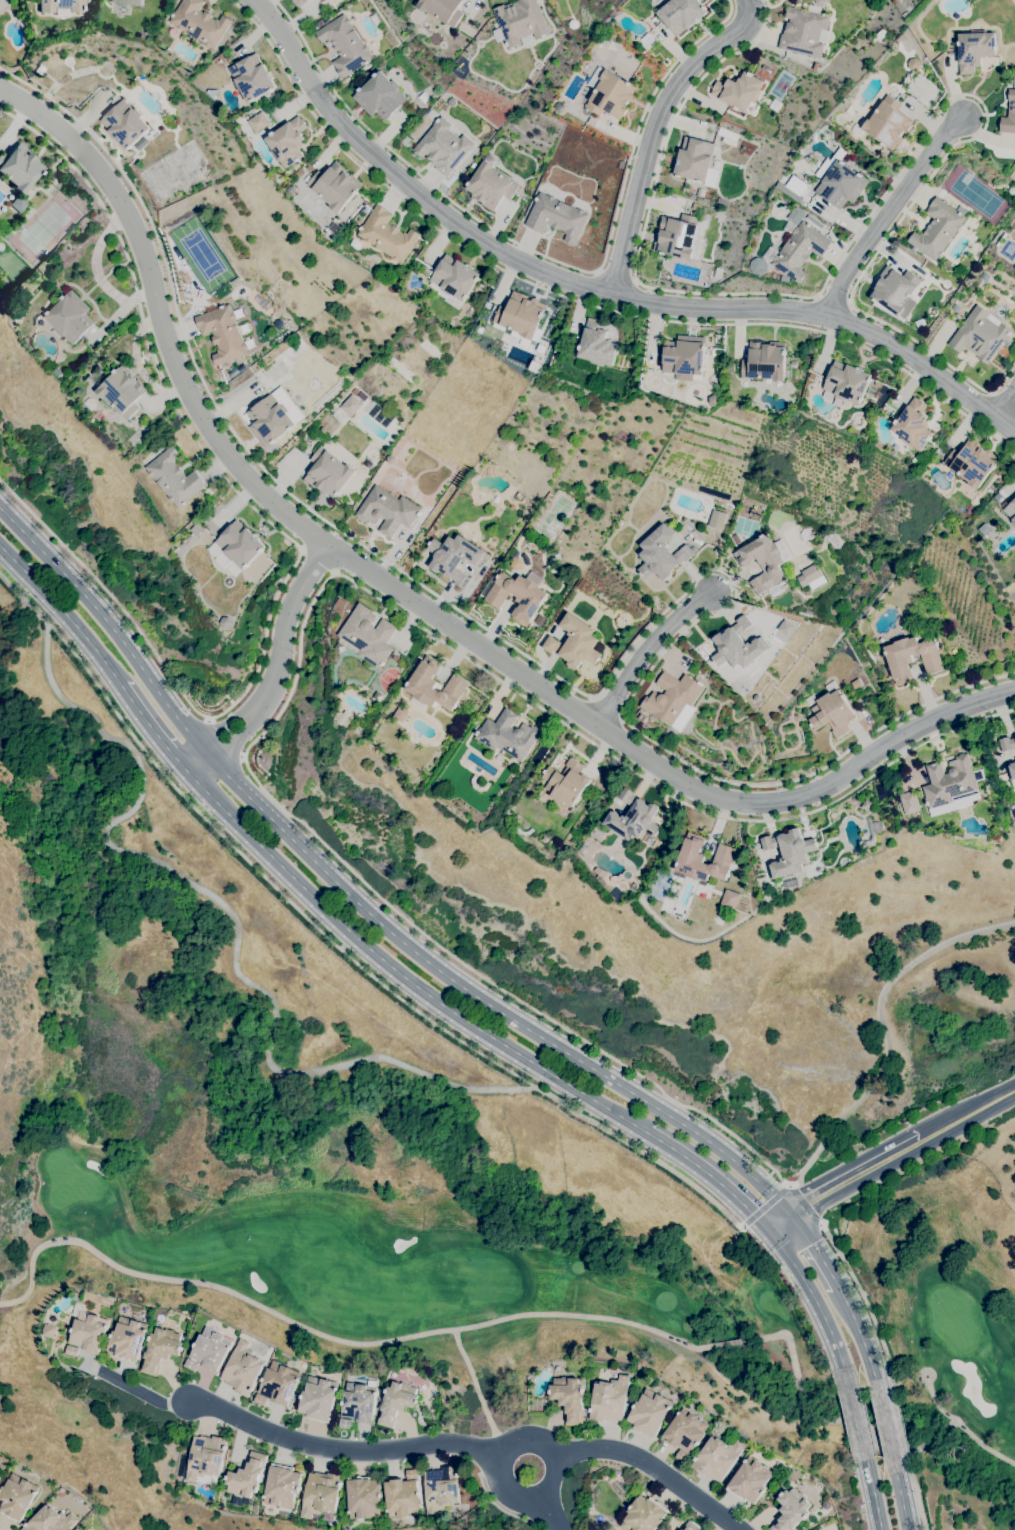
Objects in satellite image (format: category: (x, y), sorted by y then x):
building: (126, 2)
building: (299, 2)
building: (820, 2)
building: (2, 4)
building: (60, 5)
building: (443, 10)
building: (61, 12)
building: (682, 14)
building: (375, 20)
building: (520, 21)
building: (199, 23)
building: (318, 24)
building: (573, 24)
building: (805, 31)
building: (641, 37)
building: (345, 46)
building: (385, 47)
building: (591, 50)
building: (974, 50)
building: (217, 62)
building: (913, 64)
building: (815, 66)
building: (765, 68)
building: (39, 70)
building: (252, 78)
building: (738, 91)
building: (213, 93)
building: (609, 93)
building: (380, 96)
building: (775, 105)
building: (559, 107)
building: (431, 114)
building: (1009, 115)
building: (259, 122)
building: (886, 123)
building: (125, 124)
road: (656, 131)
building: (287, 142)
building: (444, 146)
building: (695, 159)
building: (473, 165)
building: (19, 167)
building: (280, 180)
building: (840, 182)
building: (491, 185)
building: (334, 186)
building: (800, 187)
building: (291, 190)
building: (1012, 190)
park: (974, 194)
road: (877, 204)
building: (696, 207)
road: (889, 212)
building: (556, 217)
building: (334, 227)
building: (938, 228)
building: (387, 235)
building: (677, 236)
building: (1002, 240)
building: (356, 244)
park: (1007, 249)
building: (800, 250)
road: (539, 253)
building: (757, 266)
building: (959, 271)
building: (719, 273)
road: (617, 276)
building: (984, 276)
building: (453, 280)
building: (706, 285)
road: (592, 289)
building: (896, 291)
road: (580, 301)
building: (955, 307)
building: (521, 315)
building: (69, 318)
building: (920, 323)
building: (222, 333)
building: (980, 335)
building: (505, 342)
building: (595, 347)
building: (543, 357)
building: (684, 357)
building: (764, 362)
building: (84, 376)
building: (813, 376)
building: (847, 382)
building: (122, 391)
building: (713, 400)
building: (871, 403)
building: (90, 404)
road: (1007, 407)
building: (347, 410)
building: (380, 415)
building: (274, 417)
building: (95, 421)
building: (913, 425)
building: (875, 432)
building: (156, 449)
building: (391, 460)
building: (972, 462)
building: (328, 473)
building: (174, 478)
building: (388, 511)
building: (752, 511)
building: (1011, 511)
building: (208, 519)
building: (716, 519)
building: (197, 529)
building: (984, 529)
building: (806, 534)
building: (718, 535)
road: (288, 538)
building: (736, 539)
building: (236, 548)
building: (661, 554)
building: (454, 557)
road: (316, 561)
building: (517, 563)
building: (765, 563)
building: (811, 577)
building: (518, 595)
road: (414, 601)
building: (341, 604)
building: (560, 610)
road: (64, 613)
building: (555, 618)
building: (226, 622)
road: (110, 628)
building: (784, 631)
road: (299, 633)
building: (367, 636)
building: (766, 637)
building: (575, 643)
building: (741, 645)
building: (338, 647)
road: (645, 649)
road: (281, 657)
building: (394, 658)
building: (899, 658)
road: (563, 680)
building: (421, 684)
building: (377, 696)
building: (672, 697)
building: (831, 711)
building: (398, 715)
building: (639, 716)
building: (343, 718)
building: (683, 718)
road: (155, 730)
building: (508, 735)
road: (223, 739)
building: (1007, 743)
road: (200, 765)
building: (1012, 773)
building: (473, 783)
building: (566, 783)
building: (951, 785)
building: (908, 802)
building: (866, 805)
building: (633, 818)
building: (518, 826)
building: (873, 829)
building: (544, 839)
building: (788, 852)
building: (703, 859)
building: (599, 872)
road: (269, 880)
building: (792, 883)
building: (730, 900)
road: (401, 974)
road: (265, 995)
road: (487, 1002)
road: (883, 1025)
road: (969, 1113)
road: (711, 1175)
road: (857, 1176)
road: (803, 1202)
road: (766, 1206)
traffic signals: (753, 1214)
road: (778, 1222)
road: (816, 1251)
park: (544, 1277)
road: (816, 1301)
road: (867, 1304)
building: (88, 1329)
building: (48, 1331)
road: (862, 1338)
building: (128, 1339)
building: (160, 1349)
building: (211, 1349)
building: (71, 1350)
building: (191, 1365)
building: (242, 1369)
building: (279, 1383)
building: (568, 1398)
building: (318, 1399)
building: (610, 1399)
building: (260, 1400)
building: (359, 1402)
building: (397, 1402)
building: (650, 1412)
building: (436, 1416)
road: (857, 1418)
building: (345, 1423)
road: (884, 1426)
road: (961, 1427)
building: (686, 1431)
road: (903, 1432)
road: (286, 1437)
building: (682, 1456)
building: (718, 1457)
building: (206, 1459)
road: (656, 1471)
building: (412, 1474)
building: (246, 1480)
building: (750, 1481)
road: (561, 1485)
building: (282, 1486)
building: (440, 1490)
road: (873, 1491)
building: (320, 1494)
road: (900, 1495)
building: (17, 1496)
building: (364, 1497)
building: (402, 1498)
road: (917, 1498)
road: (500, 1508)
building: (791, 1509)
building: (66, 1512)
building: (644, 1515)
road: (549, 1517)
building: (50, 1520)
building: (692, 1526)
building: (77, 1529)

